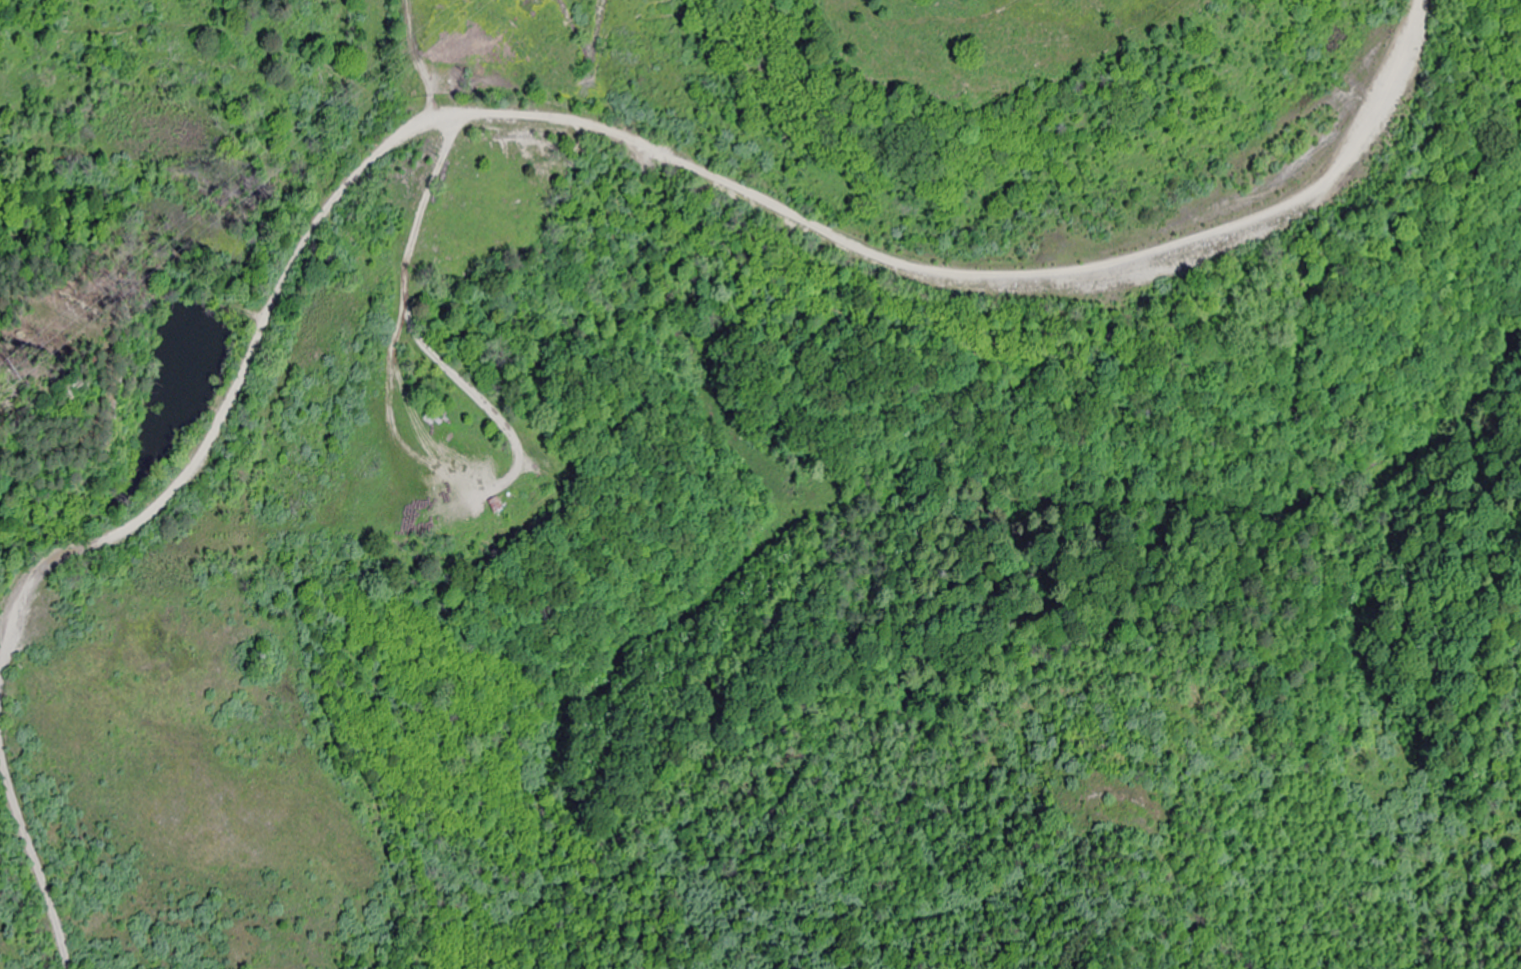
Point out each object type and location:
quarry: (595, 394)

